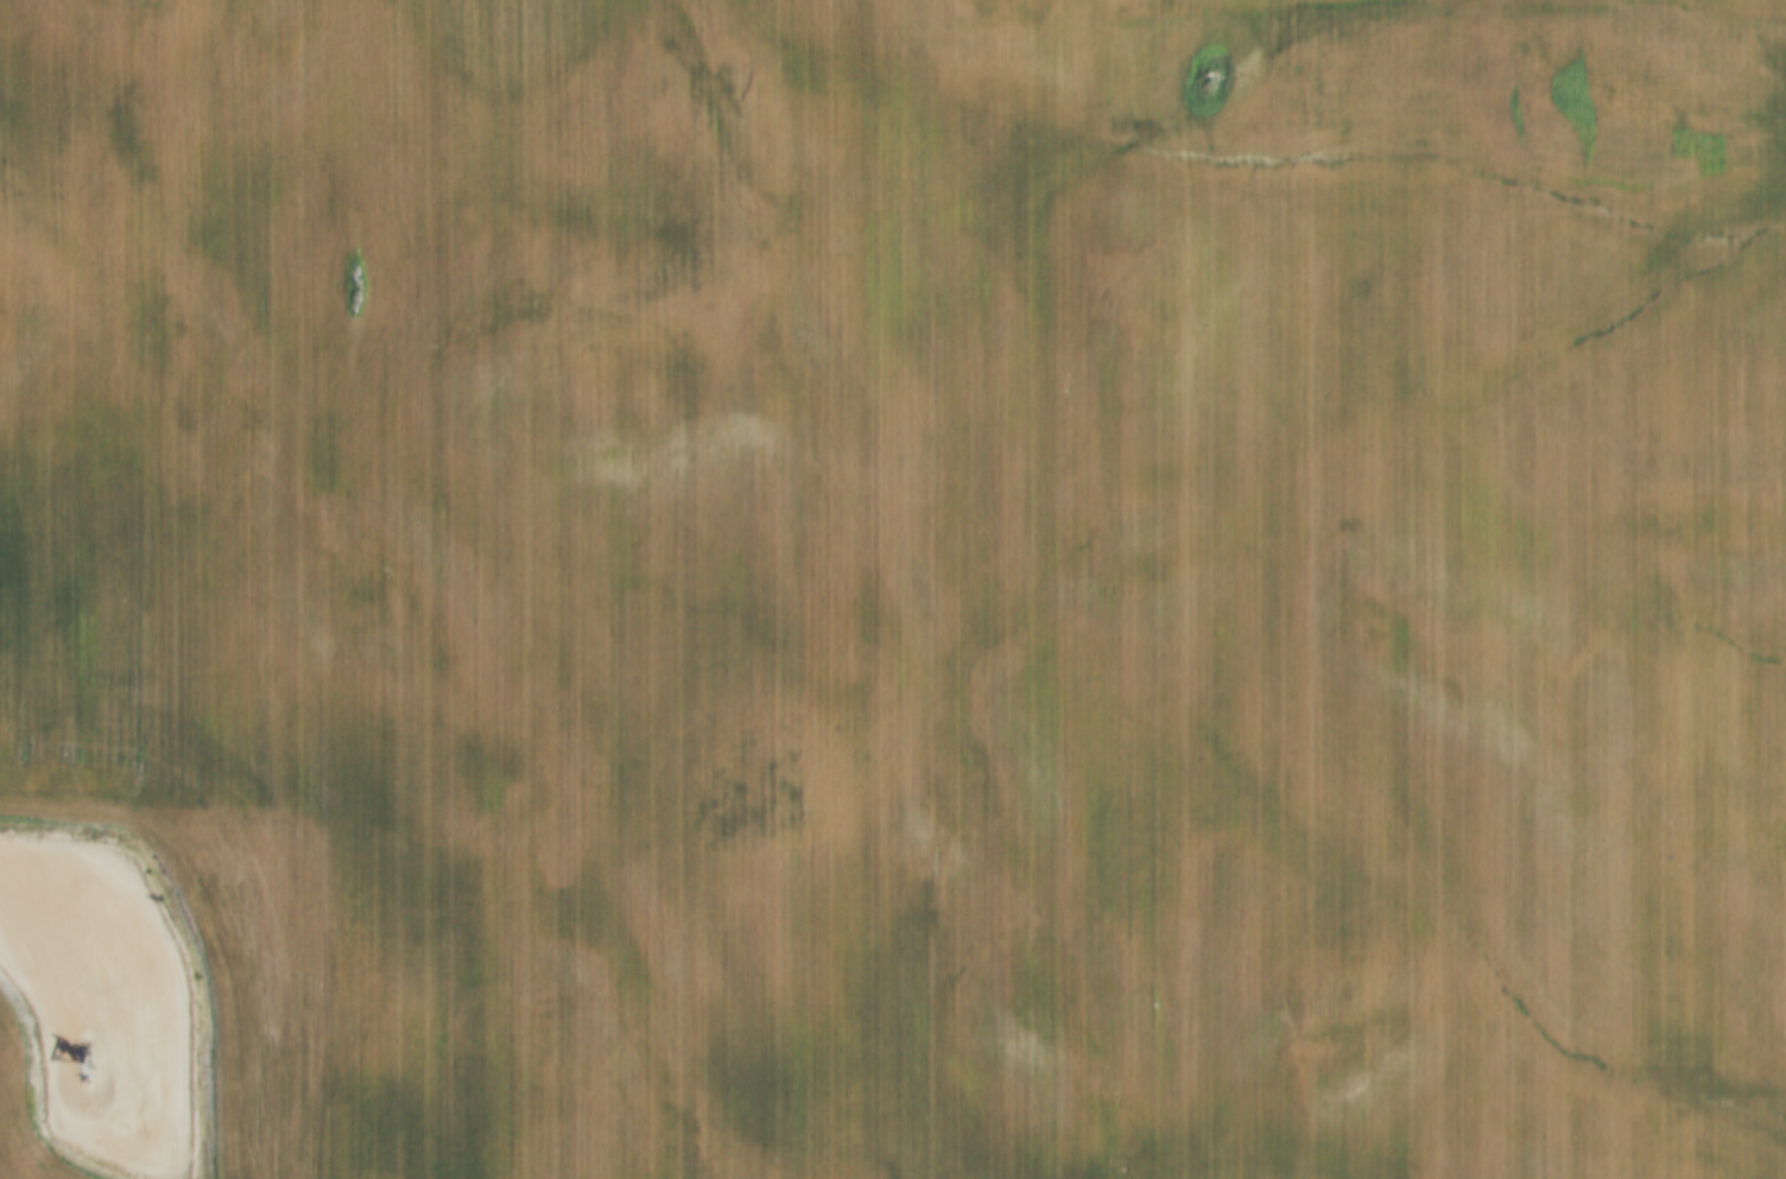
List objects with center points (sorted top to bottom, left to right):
road: (1347, 146)
petroleum well: (71, 1063)

